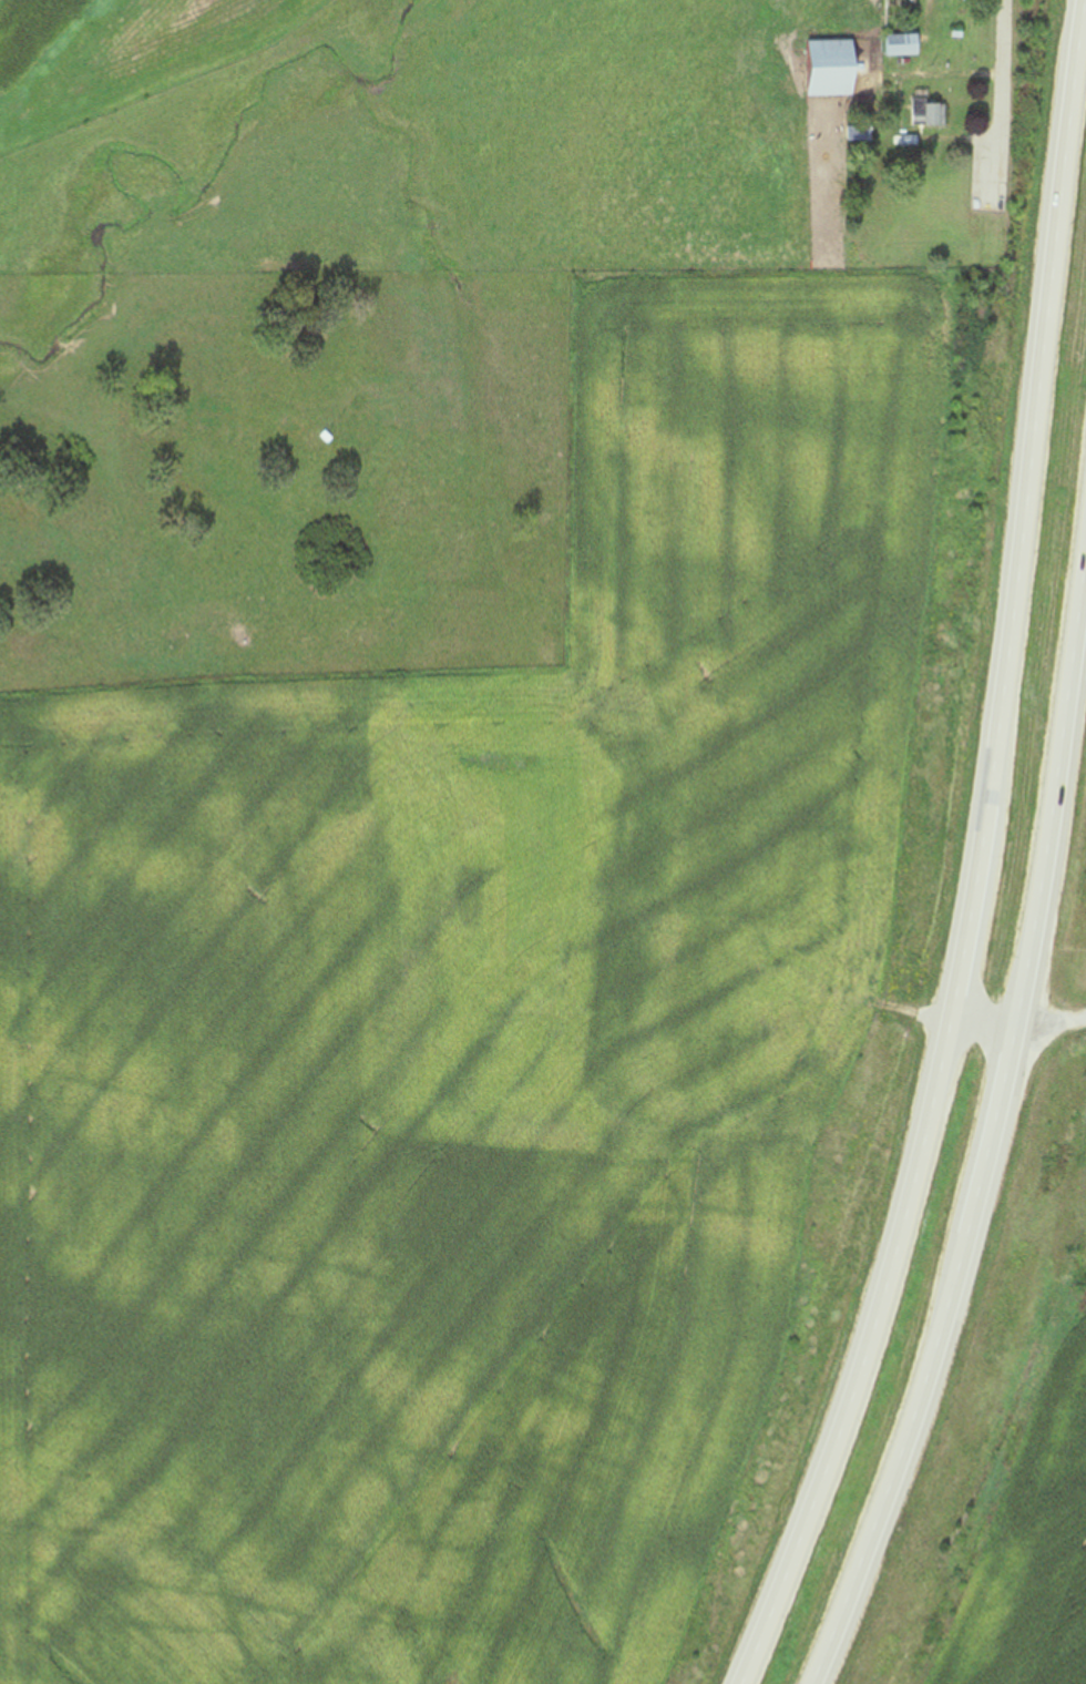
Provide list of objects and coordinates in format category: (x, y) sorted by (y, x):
building: (902, 45)
building: (829, 69)
road: (1002, 100)
building: (928, 114)
building: (859, 135)
building: (905, 142)
road: (982, 857)
road: (1051, 1024)
road: (983, 1027)
road: (992, 1131)

